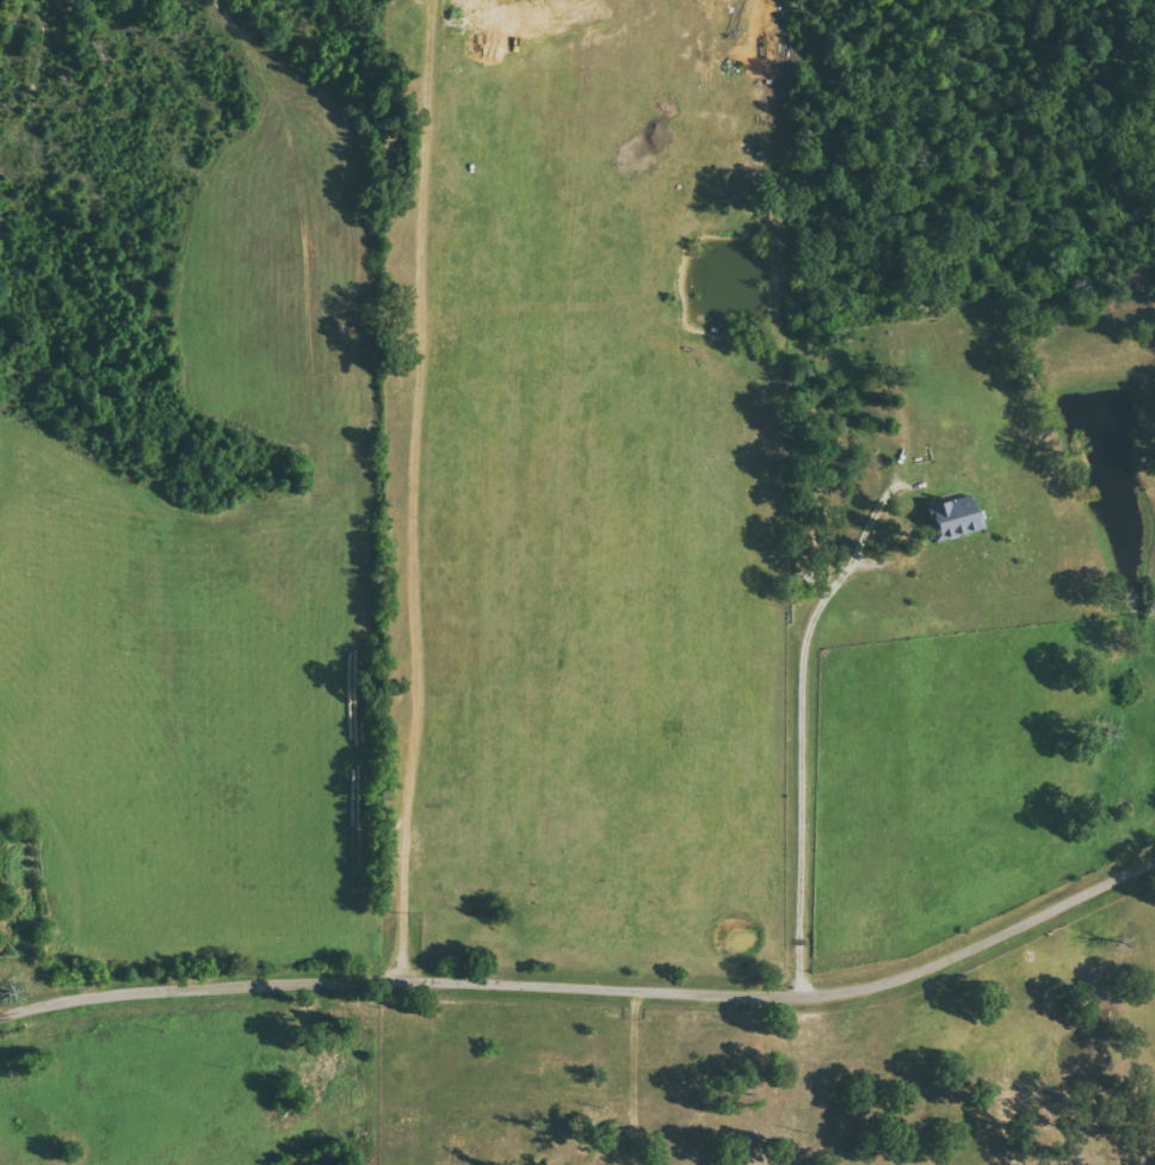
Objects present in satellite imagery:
building: (950, 517)
road: (803, 731)
road: (589, 992)
road: (19, 1006)
road: (643, 1079)

